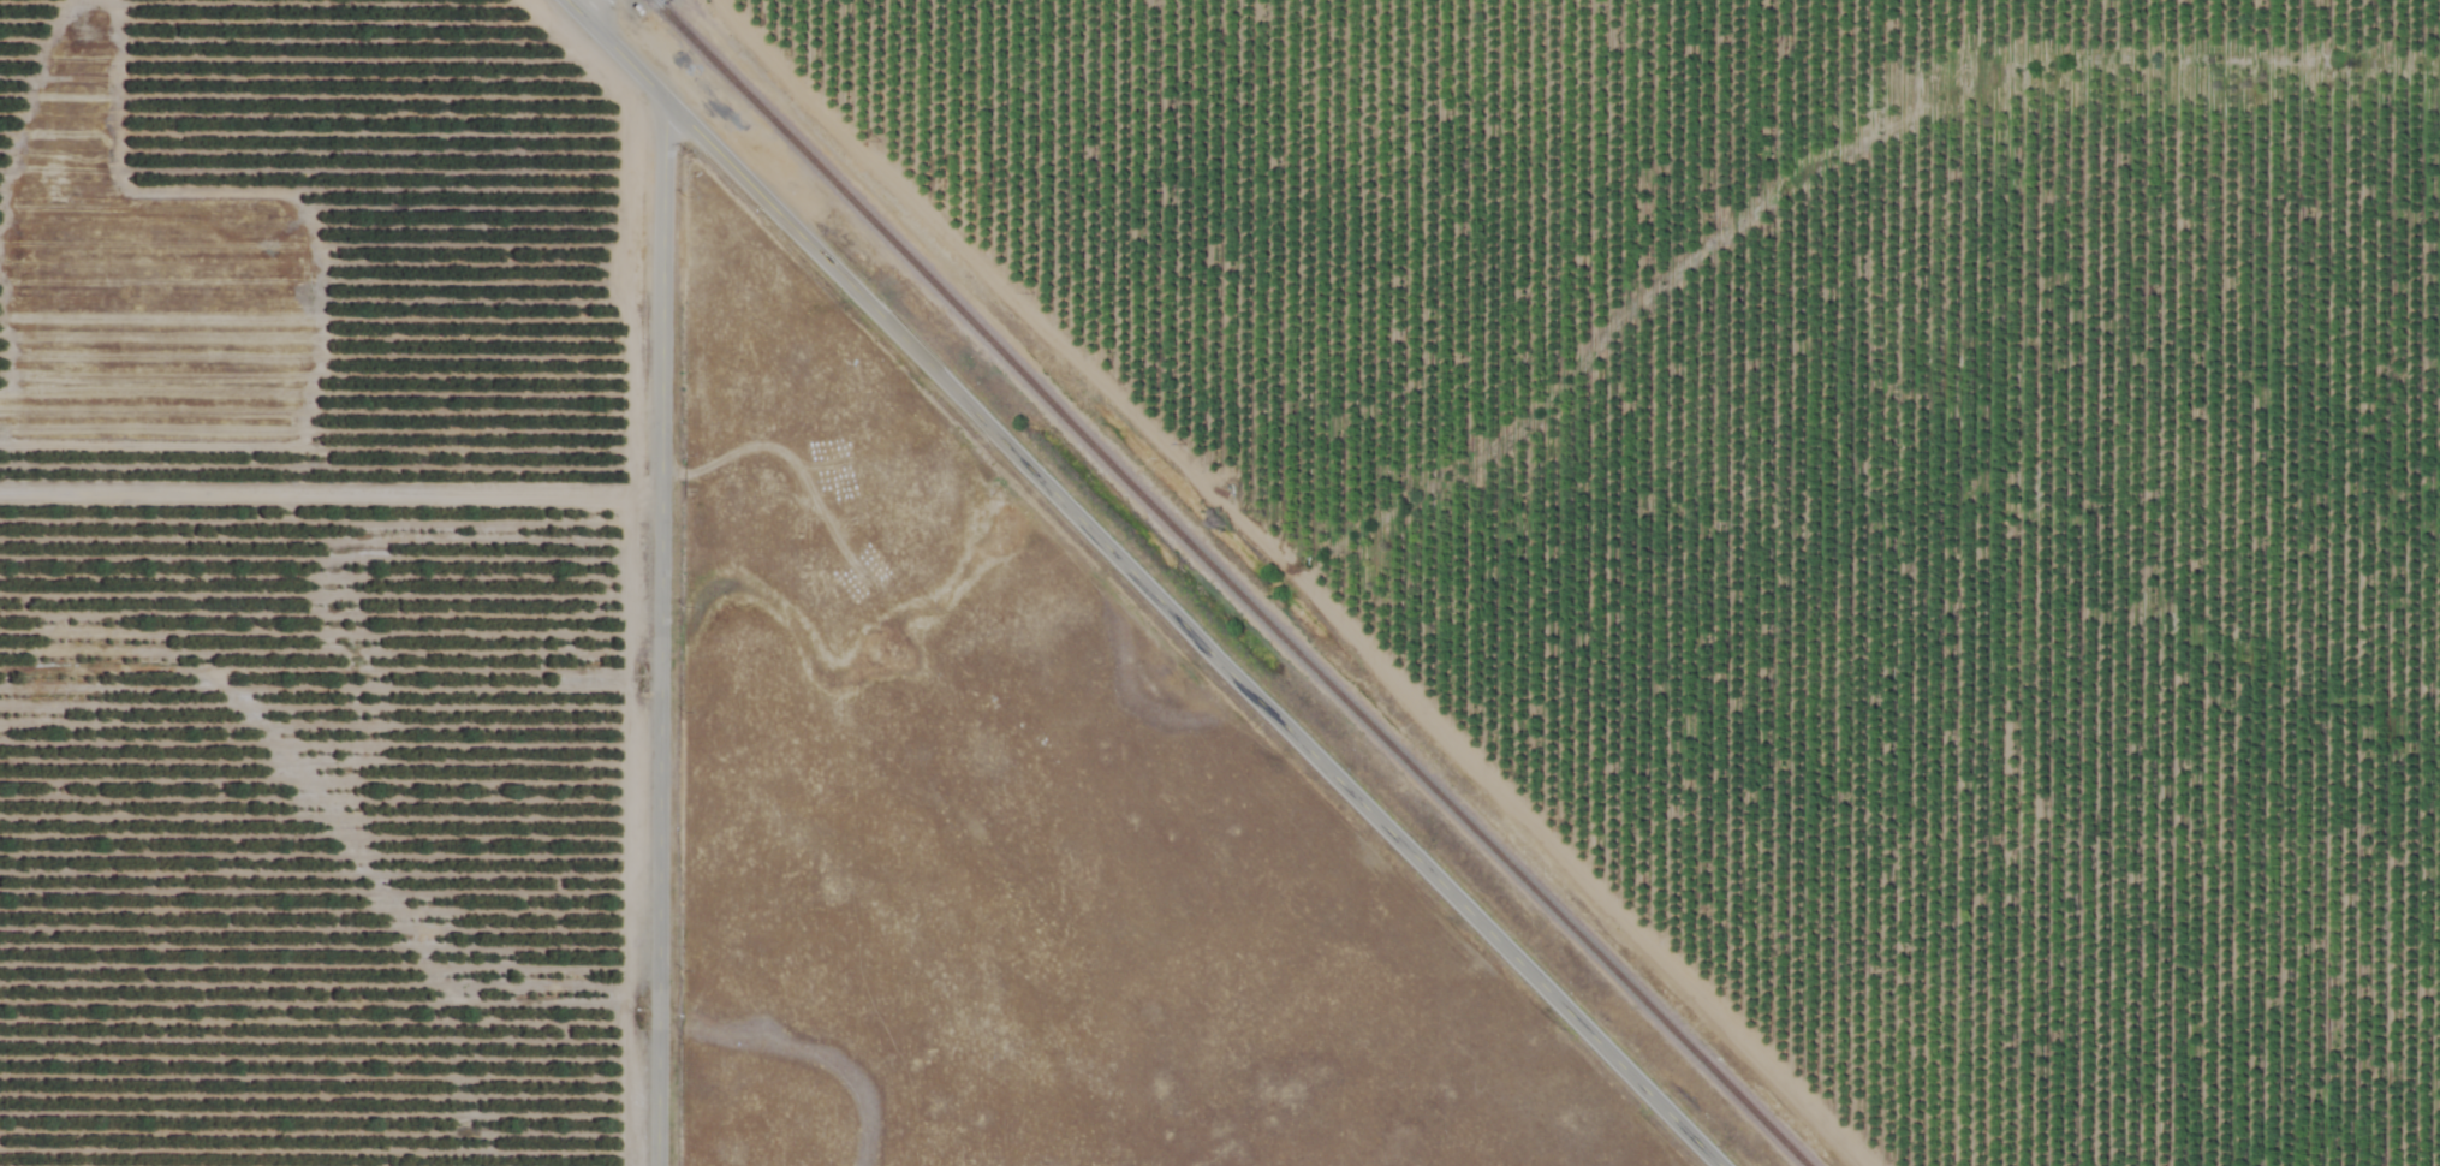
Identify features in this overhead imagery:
road: (597, 13)
crop: (1805, 487)
crop: (316, 582)
road: (1141, 582)
railway: (1227, 583)
road: (669, 632)

